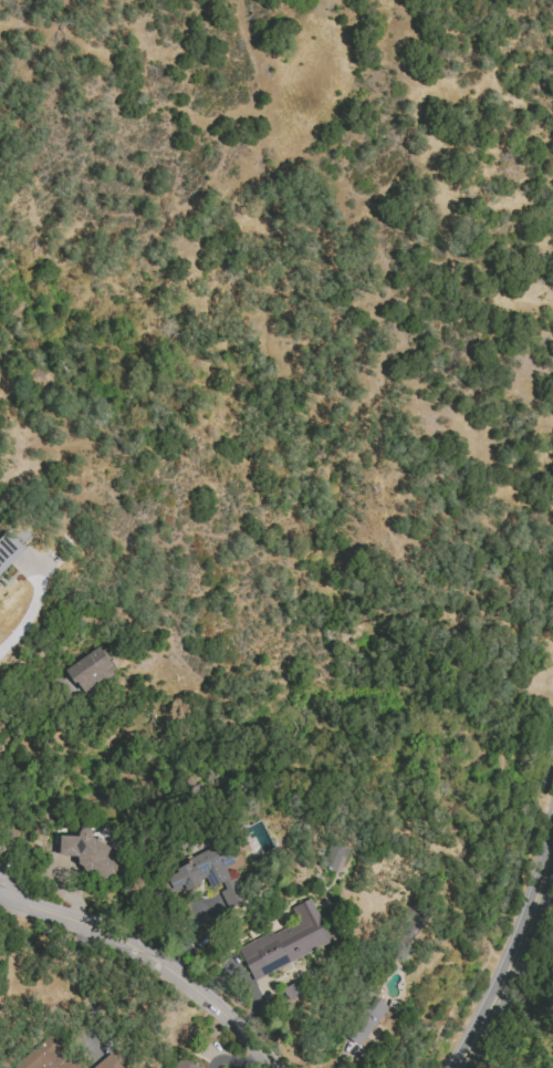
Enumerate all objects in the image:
building: (8, 549)
road: (30, 612)
building: (90, 670)
road: (547, 841)
building: (91, 853)
building: (334, 857)
building: (207, 875)
road: (8, 885)
road: (7, 898)
building: (285, 942)
road: (158, 962)
road: (505, 968)
road: (77, 984)
road: (526, 1007)
building: (365, 1020)
building: (45, 1056)
building: (108, 1062)
building: (184, 1064)

